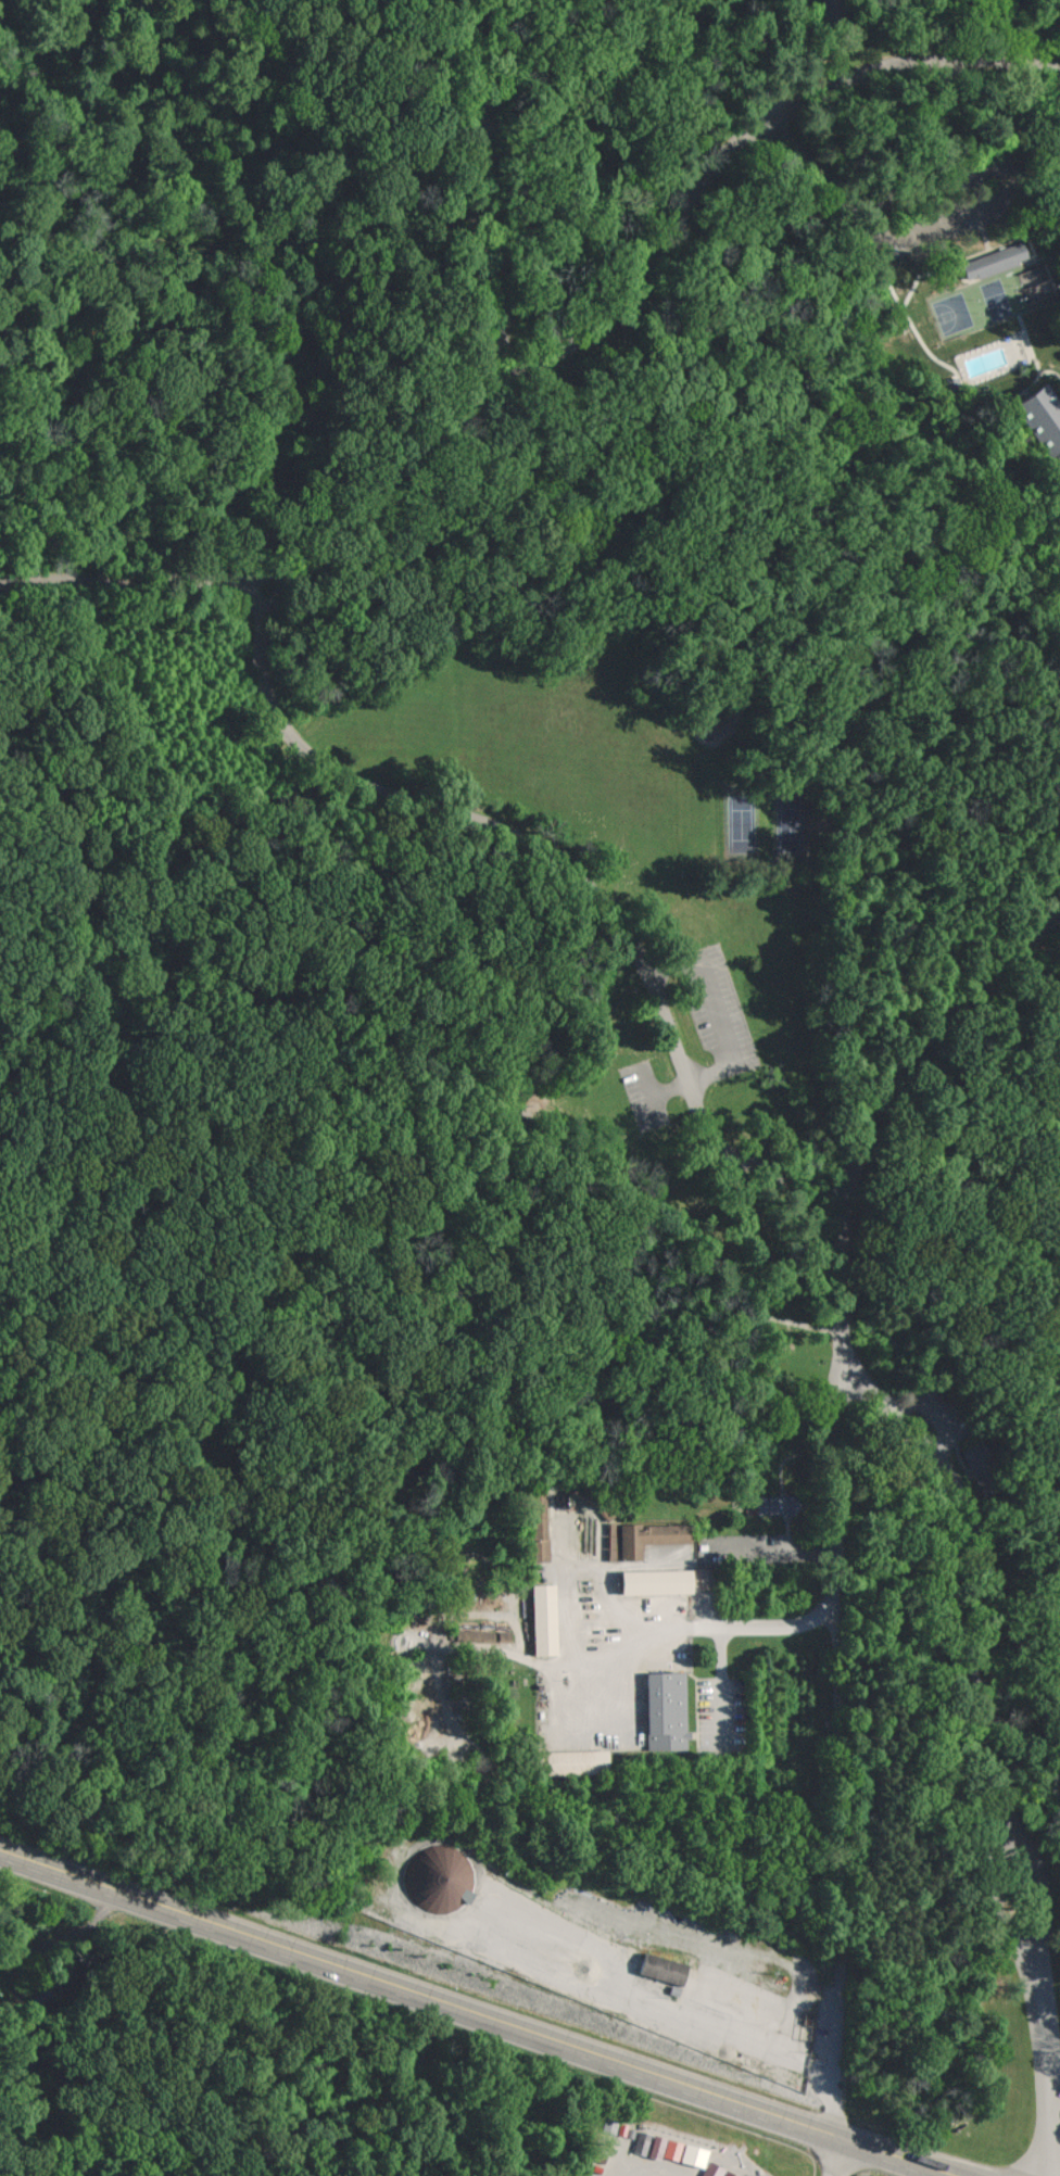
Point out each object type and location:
road: (178, 13)
building: (832, 15)
road: (821, 40)
road: (426, 90)
parking lot: (782, 94)
building: (471, 96)
road: (1043, 106)
road: (821, 163)
road: (954, 184)
road: (589, 197)
parking lot: (961, 199)
road: (968, 217)
road: (492, 253)
building: (994, 261)
road: (945, 263)
park: (1038, 283)
park: (998, 302)
park: (954, 315)
road: (720, 347)
road: (957, 376)
building: (1042, 419)
building: (1059, 547)
road: (291, 559)
road: (134, 578)
road: (450, 651)
park: (792, 824)
park: (743, 825)
building: (749, 941)
parking lot: (718, 1012)
road: (722, 1030)
parking lot: (644, 1096)
building: (512, 1122)
road: (533, 1299)
road: (847, 1338)
road: (939, 1410)
parking lot: (942, 1415)
building: (985, 1462)
building: (785, 1506)
building: (540, 1522)
building: (646, 1539)
building: (658, 1581)
road: (833, 1592)
building: (545, 1619)
building: (474, 1637)
road: (719, 1685)
building: (671, 1712)
parking lot: (719, 1712)
building: (580, 1763)
toll booth: (1010, 1869)
road: (1044, 1871)
building: (440, 1877)
road: (992, 1886)
road: (65, 1936)
building: (669, 1970)
road: (475, 2014)
road: (1048, 2066)
building: (695, 2154)
road: (840, 2159)
building: (717, 2171)

